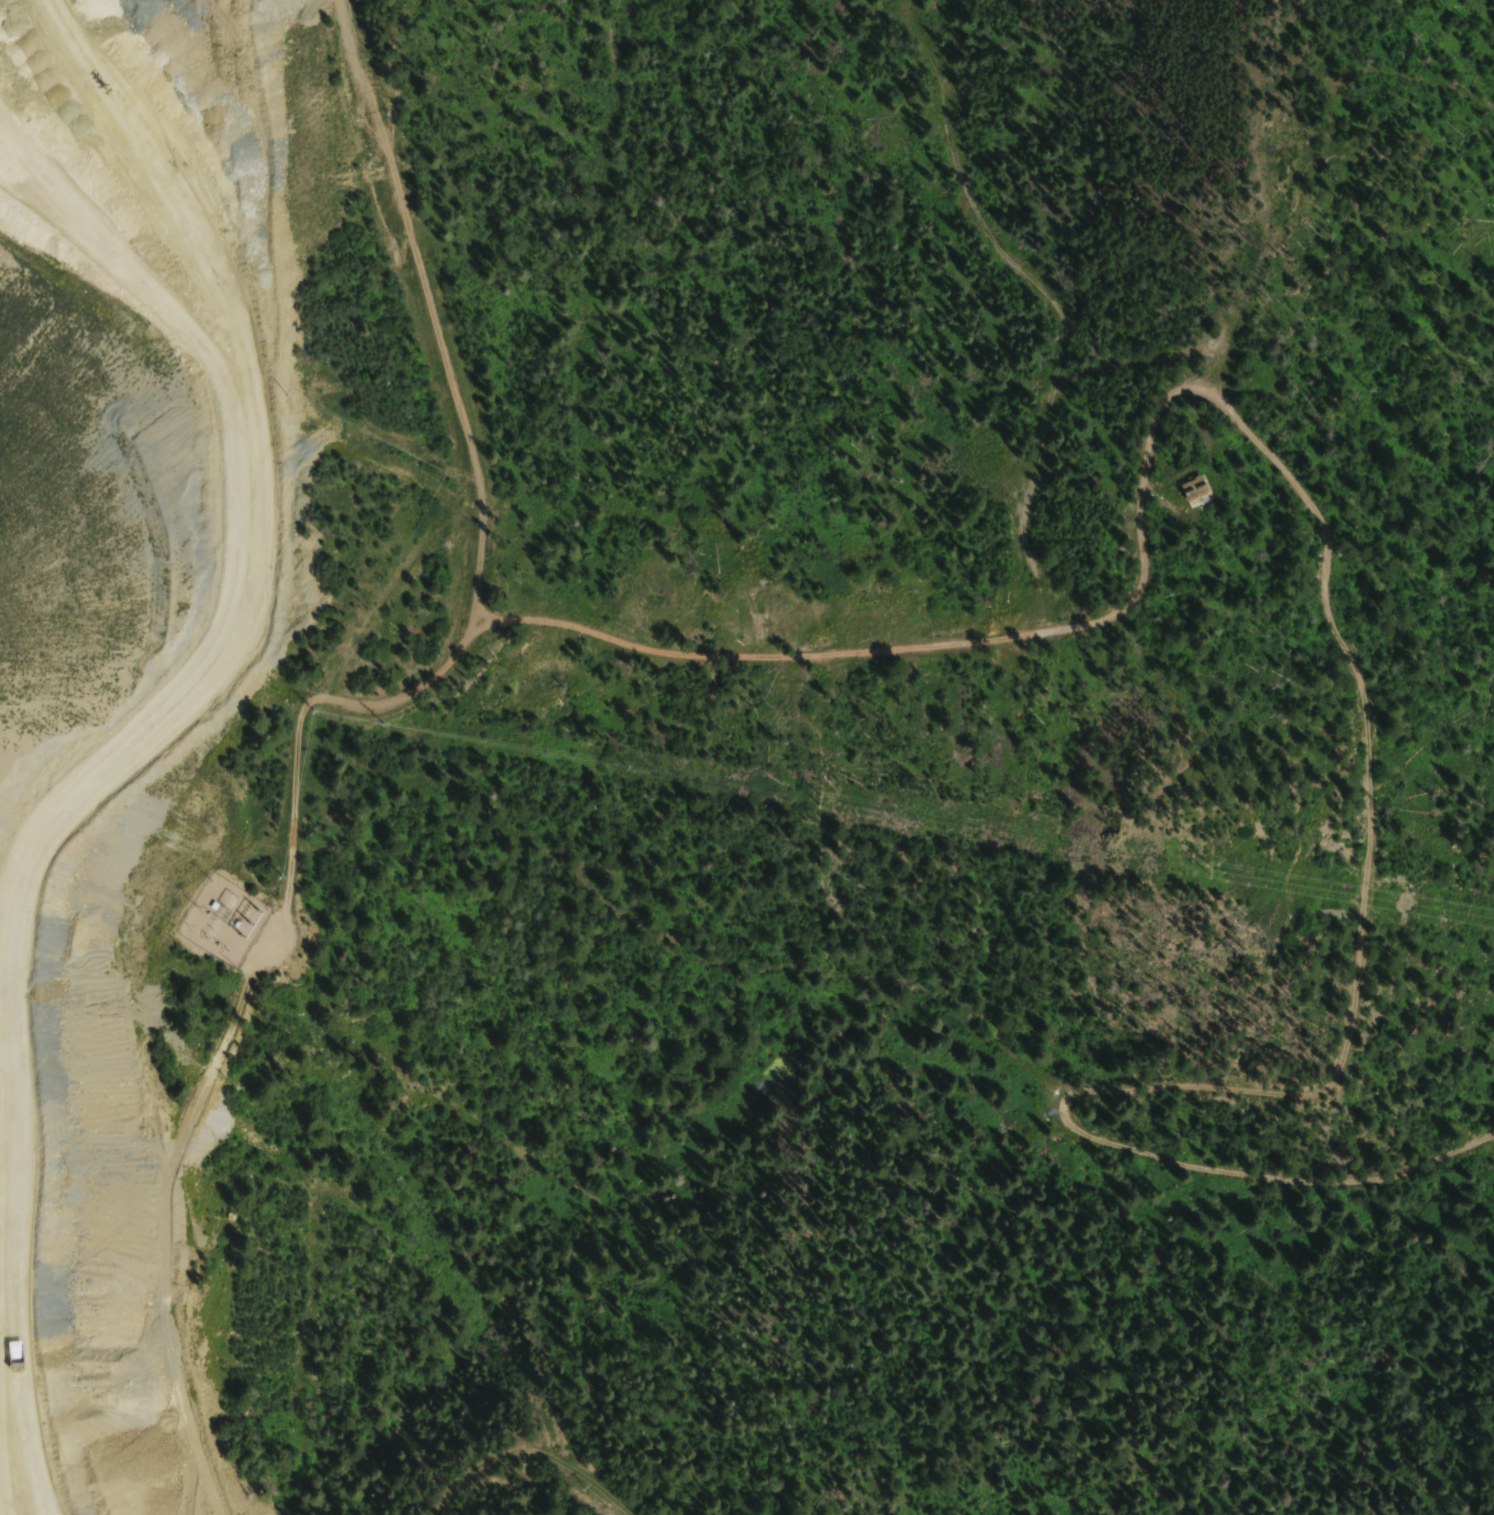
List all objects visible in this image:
road: (420, 312)
building: (1195, 491)
road: (981, 636)
quarry: (133, 663)
road: (389, 698)
power substation: (223, 920)
road: (1098, 1056)
quarry: (532, 1489)

